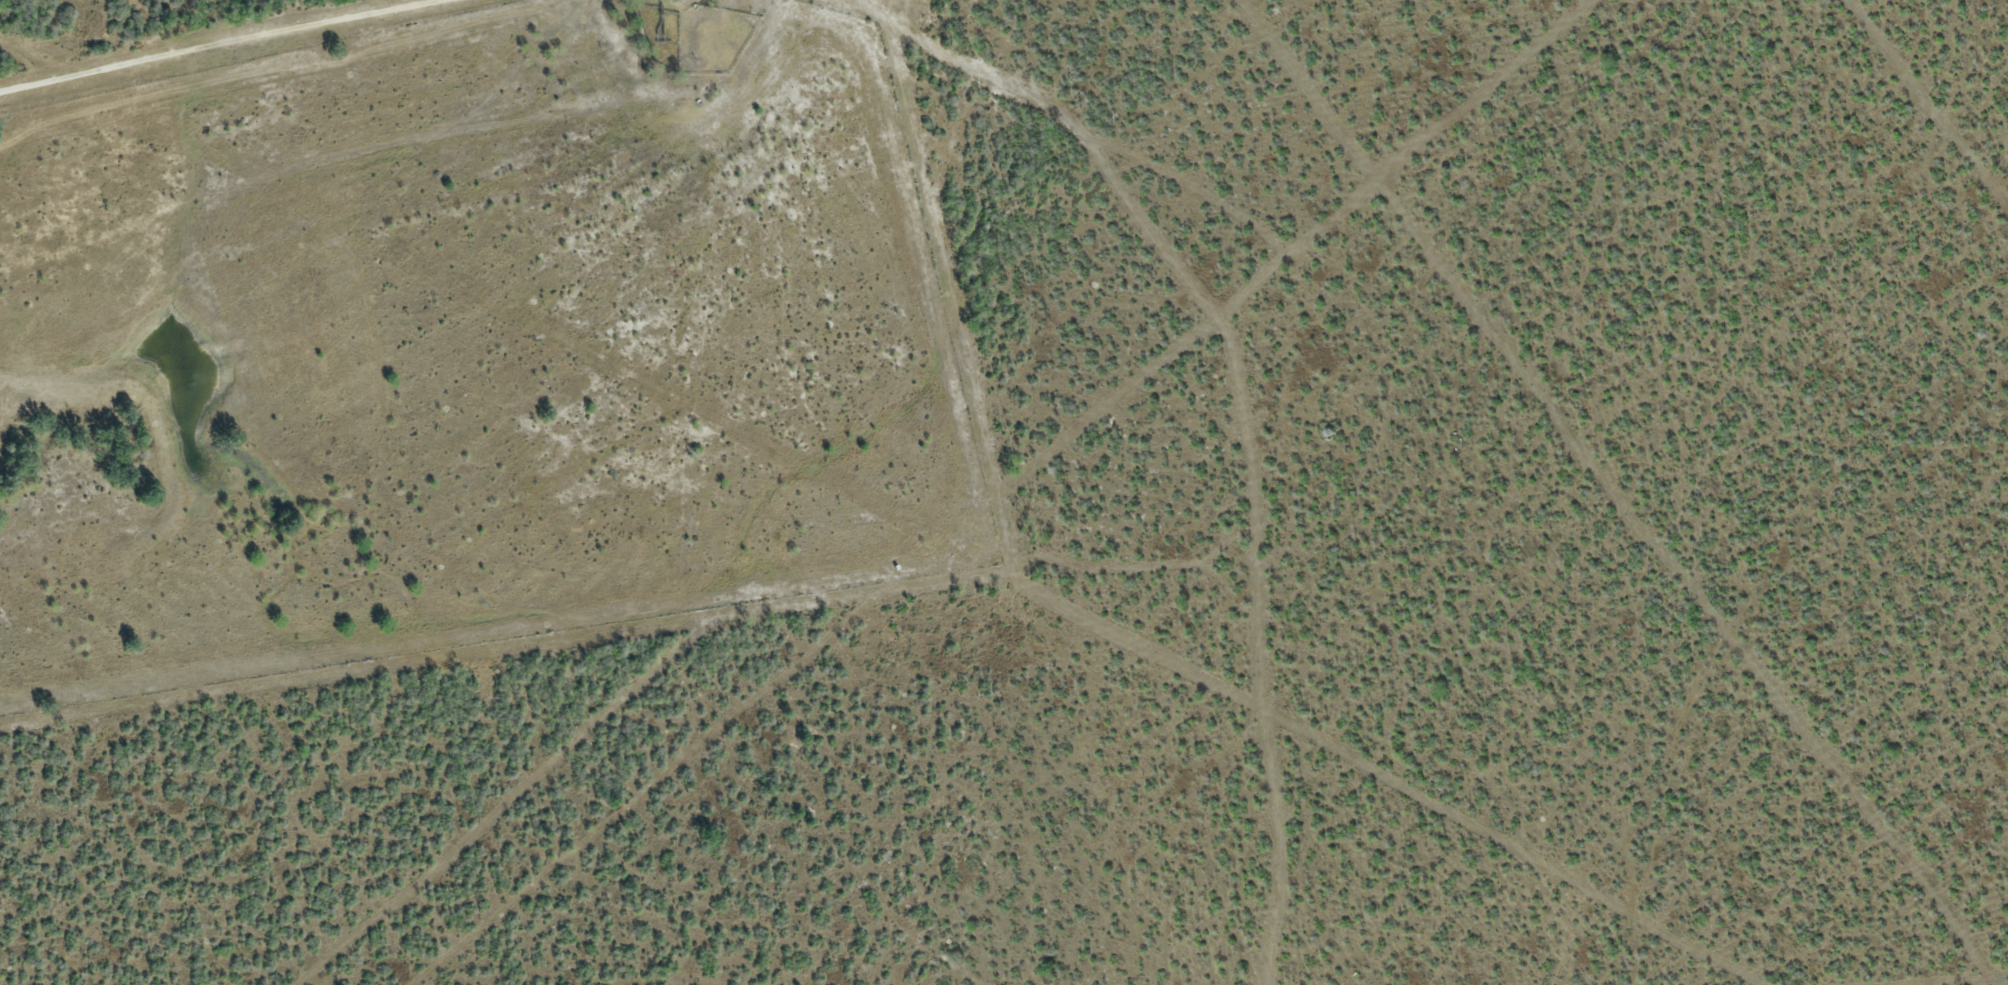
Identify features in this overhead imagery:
road: (215, 46)

